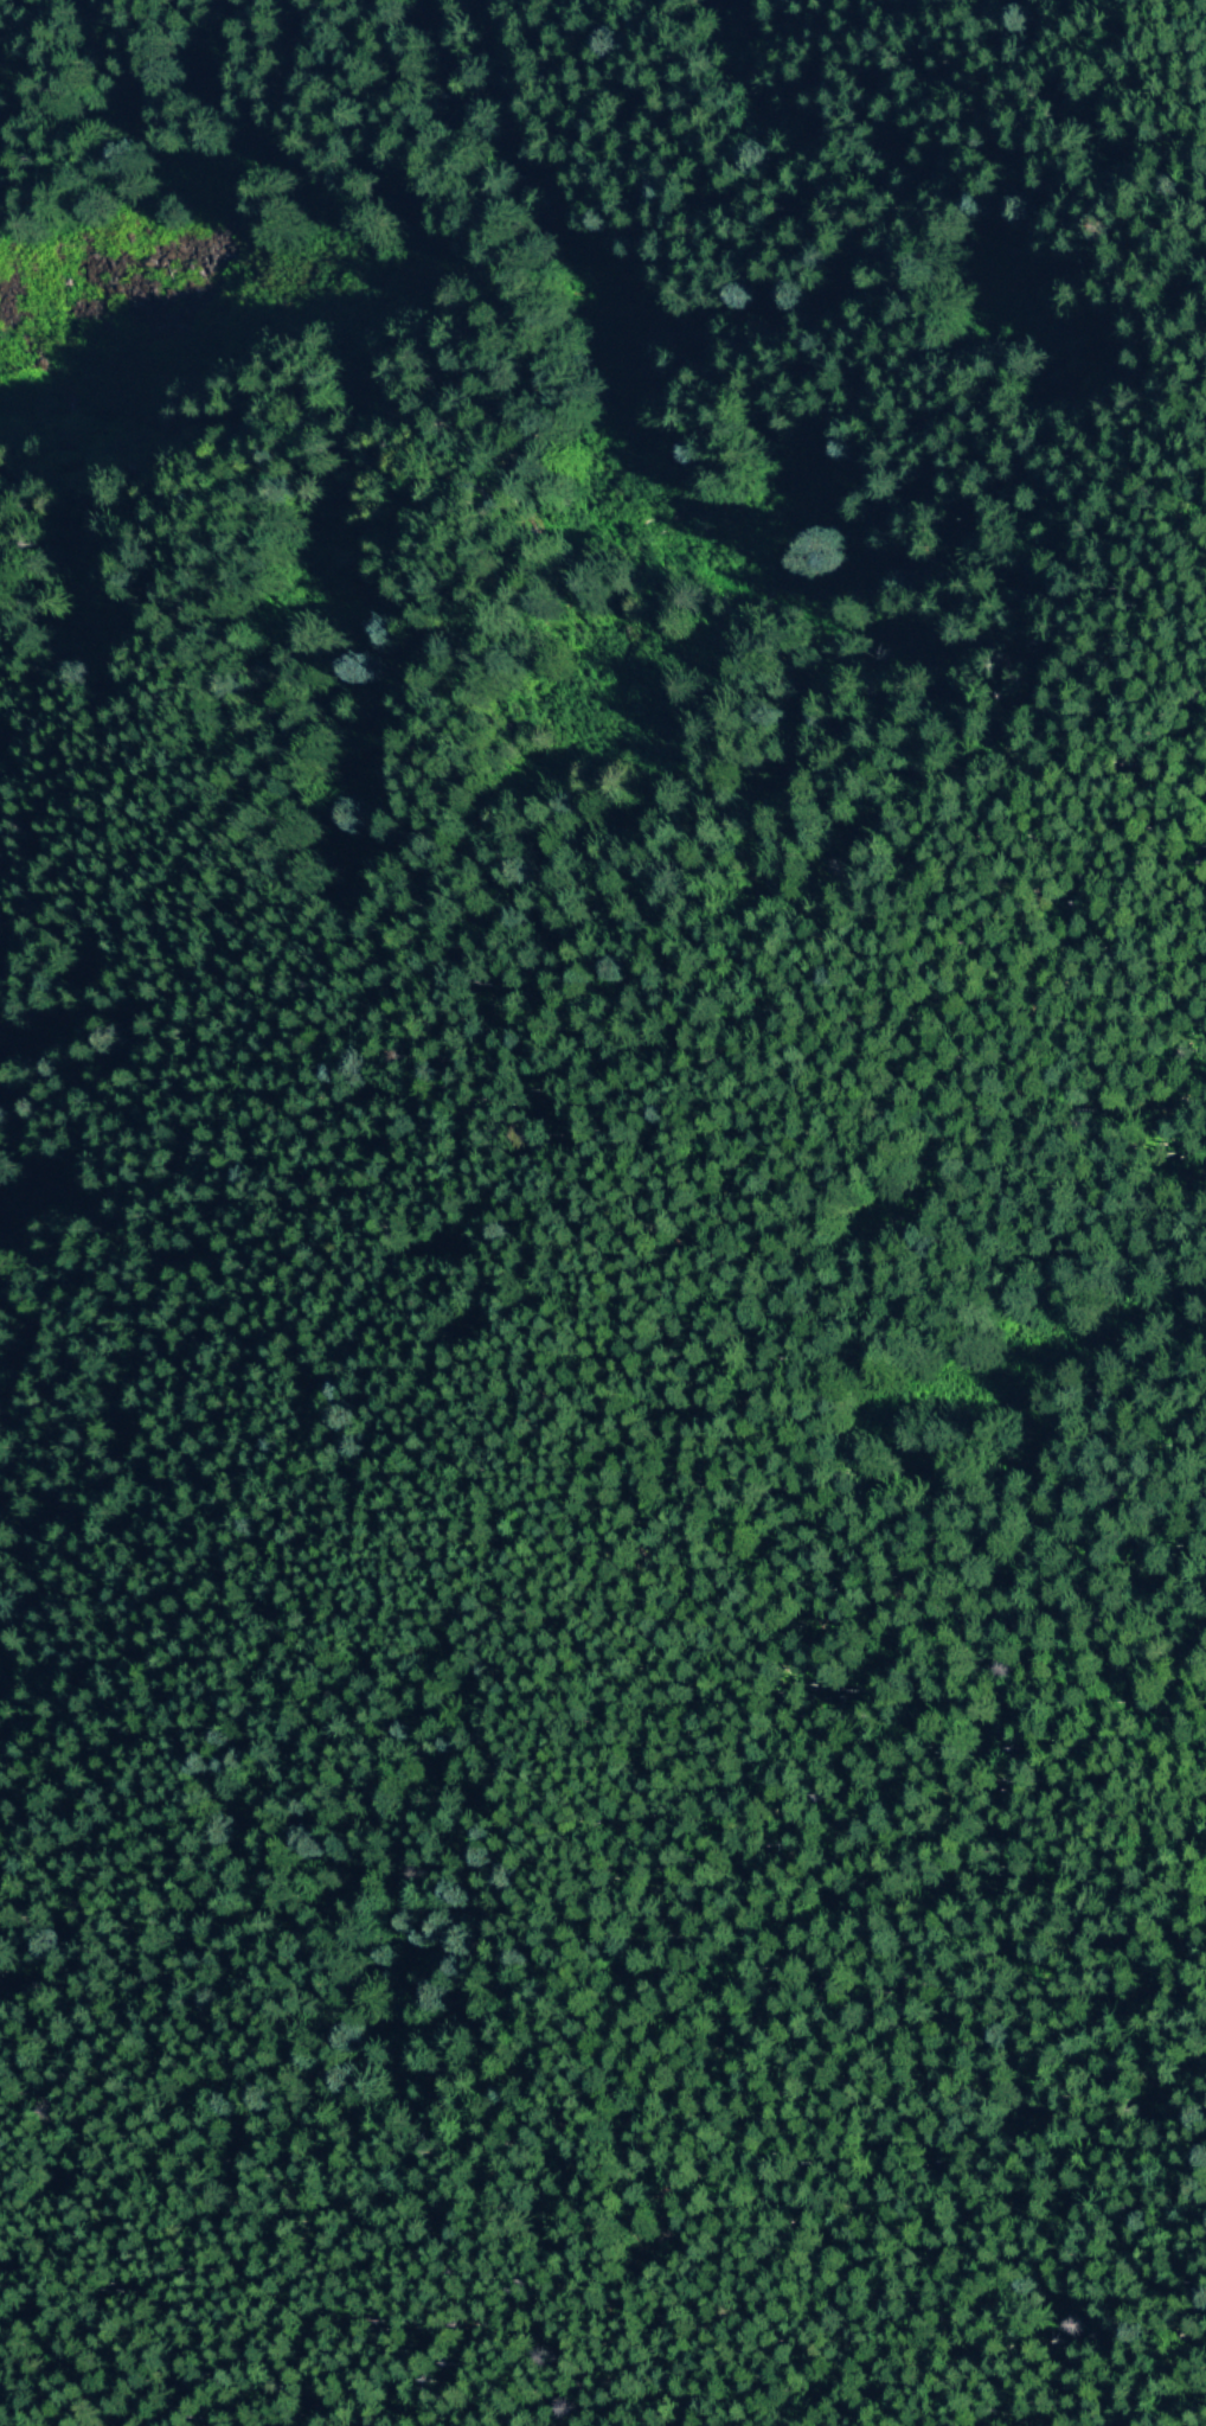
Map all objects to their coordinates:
road: (1182, 2273)

